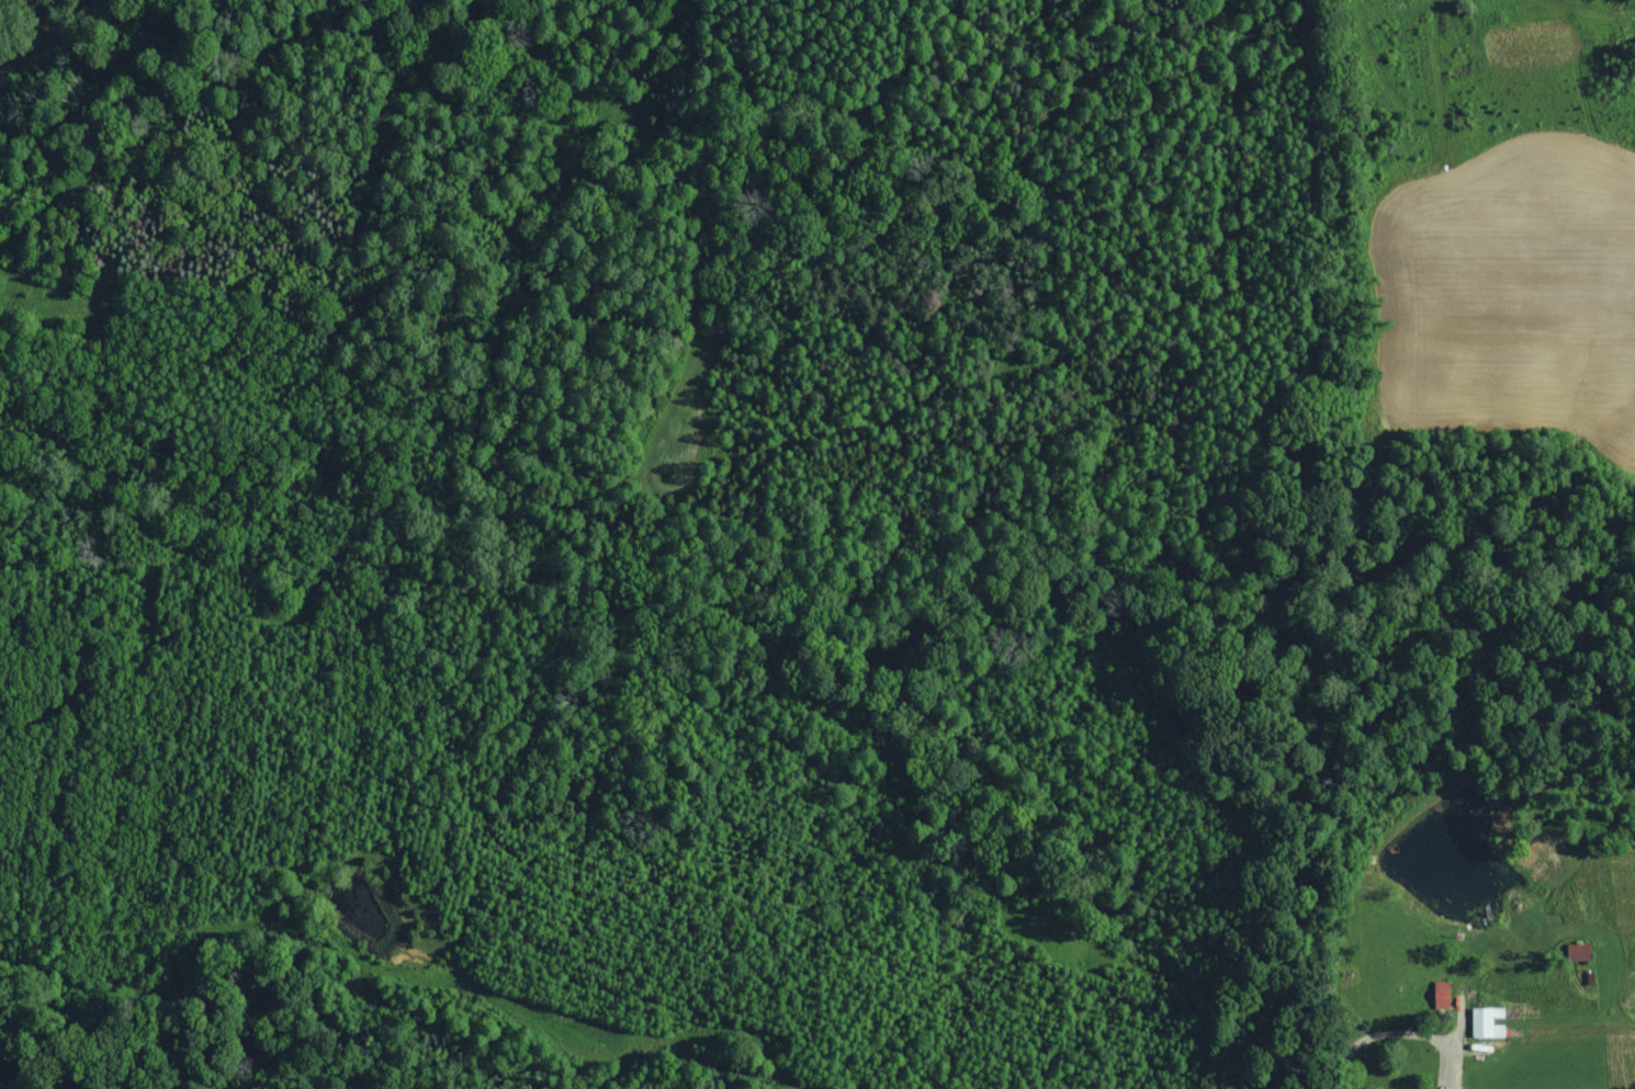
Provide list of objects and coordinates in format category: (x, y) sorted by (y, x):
building: (1582, 953)
building: (1445, 996)
building: (1490, 1023)
road: (1392, 1034)
road: (9, 1070)

